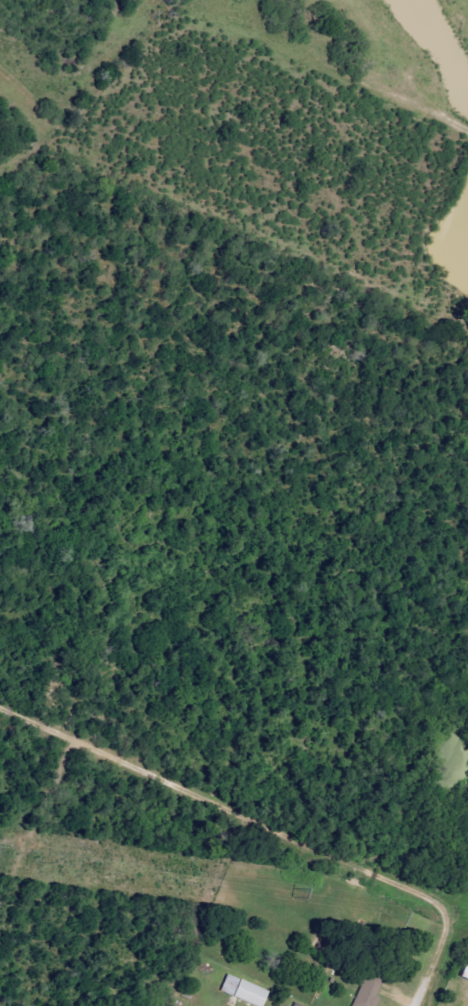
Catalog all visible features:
power tower: (290, 892)
building: (462, 967)
road: (424, 972)
building: (238, 990)
building: (363, 990)

